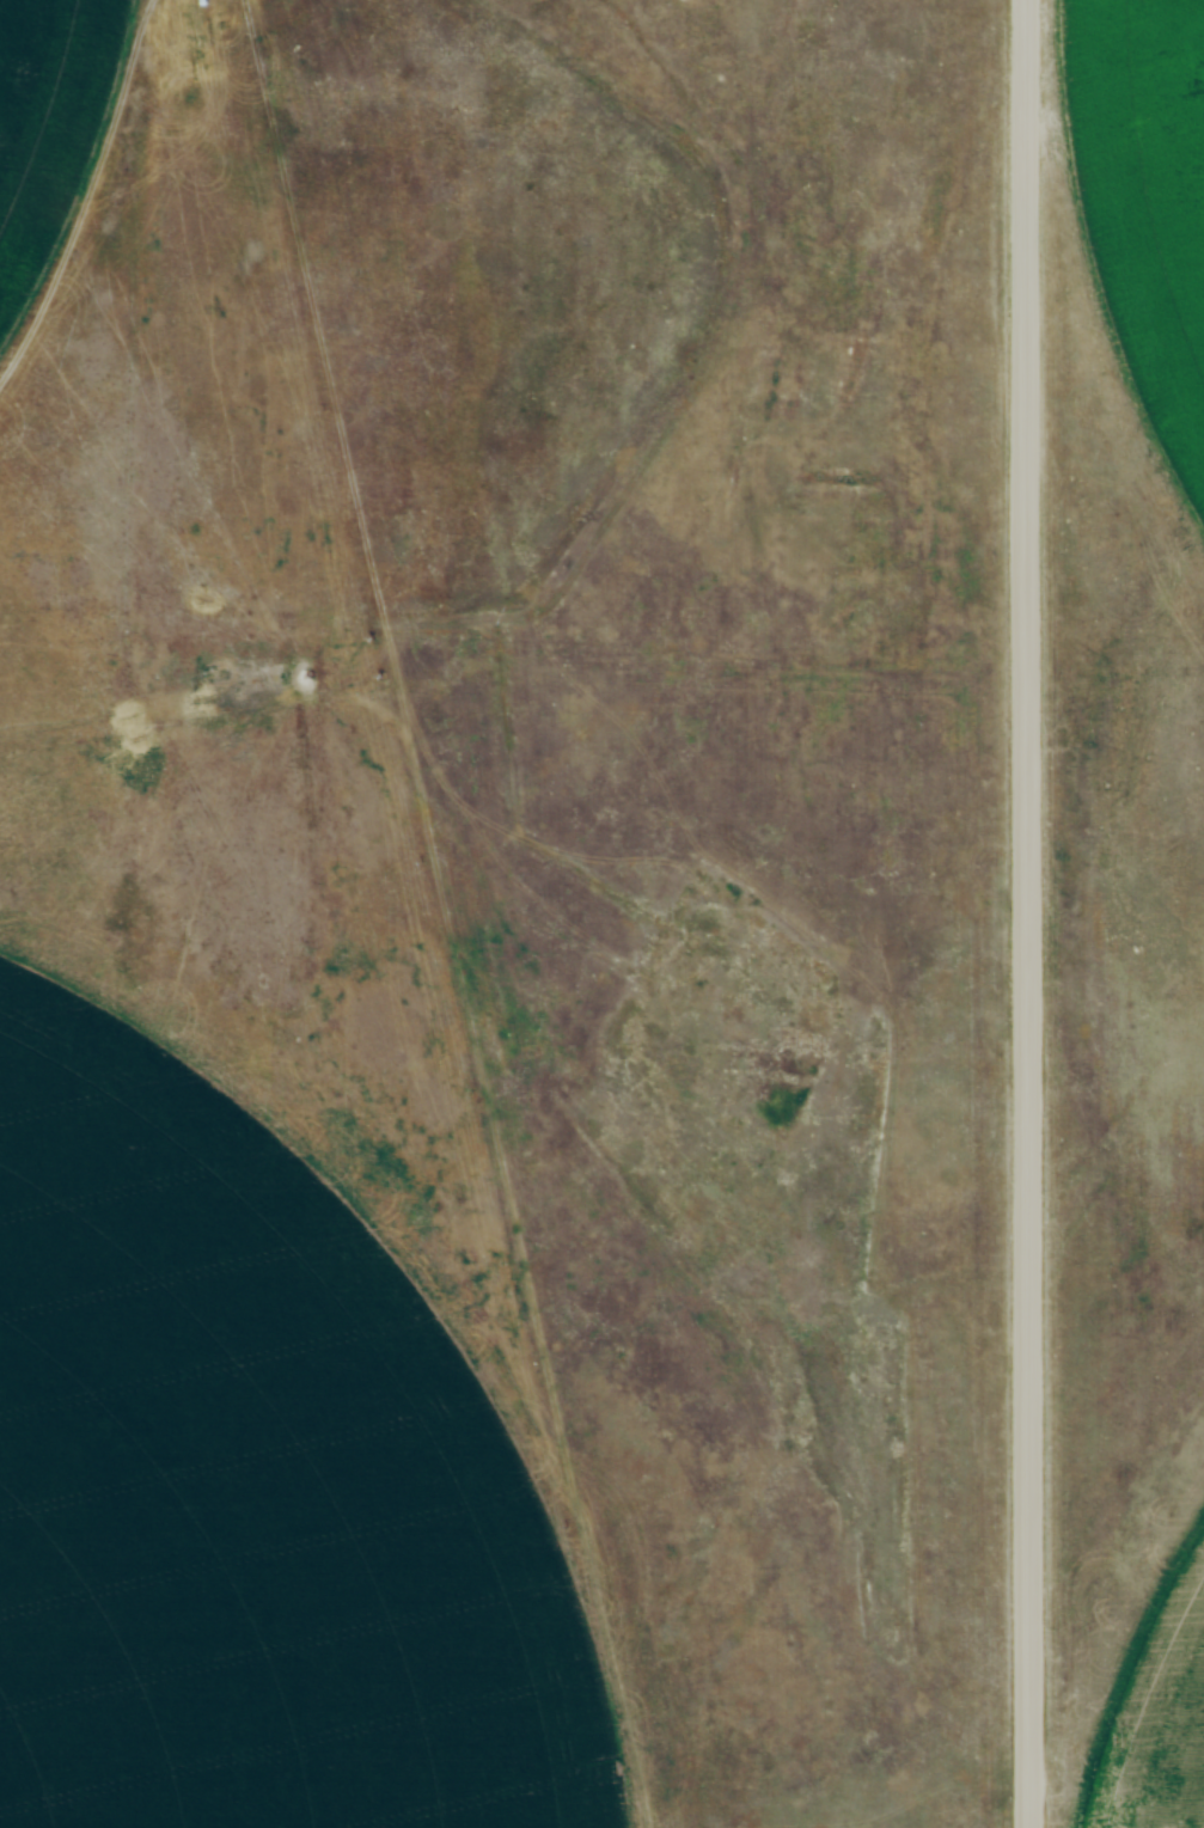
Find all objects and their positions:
building: (1199, 43)
crop: (43, 120)
crop: (1145, 275)
road: (1021, 913)
crop: (252, 1488)
crop: (1157, 1723)

